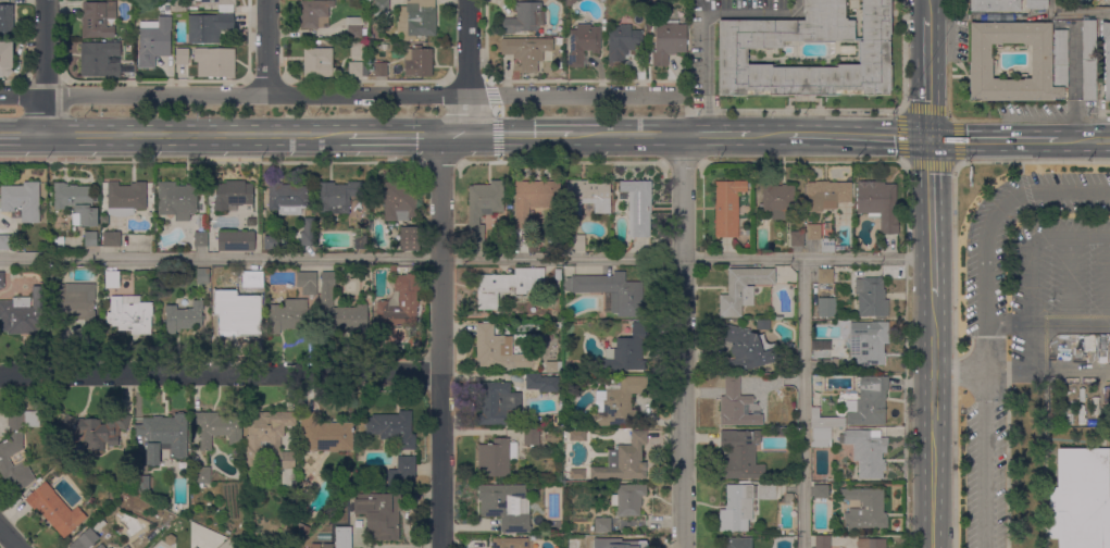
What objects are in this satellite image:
building: (1105, 0)
building: (570, 2)
building: (1036, 3)
building: (220, 4)
road: (953, 4)
building: (993, 5)
building: (178, 7)
building: (381, 8)
road: (927, 10)
road: (1075, 12)
building: (314, 13)
building: (523, 17)
building: (97, 18)
building: (416, 18)
building: (7, 20)
building: (205, 26)
building: (353, 27)
road: (706, 27)
building: (153, 41)
building: (558, 41)
building: (668, 41)
building: (583, 43)
building: (621, 43)
road: (266, 47)
building: (358, 48)
building: (526, 51)
building: (182, 55)
building: (874, 55)
building: (1106, 58)
building: (5, 59)
building: (99, 59)
building: (1088, 60)
building: (214, 62)
building: (317, 62)
building: (983, 62)
building: (419, 63)
road: (42, 66)
road: (466, 67)
building: (357, 68)
building: (381, 68)
road: (927, 79)
road: (1073, 84)
road: (341, 94)
road: (741, 109)
road: (923, 110)
road: (1103, 111)
road: (949, 116)
road: (21, 135)
road: (902, 135)
road: (195, 136)
road: (407, 136)
road: (520, 136)
road: (627, 136)
road: (695, 136)
road: (729, 136)
road: (771, 136)
road: (860, 137)
traffic signals: (930, 139)
road: (993, 139)
road: (1083, 139)
road: (955, 142)
road: (212, 161)
road: (440, 161)
road: (561, 162)
road: (682, 162)
road: (801, 162)
road: (931, 163)
building: (826, 195)
building: (232, 196)
building: (337, 196)
building: (125, 197)
building: (287, 198)
building: (534, 199)
building: (585, 199)
building: (777, 199)
building: (176, 200)
building: (400, 200)
building: (21, 201)
building: (76, 203)
building: (878, 203)
building: (483, 207)
building: (637, 207)
building: (726, 207)
building: (119, 212)
building: (262, 213)
road: (931, 217)
building: (201, 221)
building: (317, 224)
building: (390, 225)
building: (813, 232)
building: (308, 234)
building: (3, 238)
building: (90, 238)
building: (409, 238)
building: (796, 238)
building: (111, 239)
building: (200, 239)
building: (236, 241)
building: (361, 241)
building: (573, 241)
building: (272, 242)
building: (556, 245)
building: (532, 246)
building: (826, 247)
road: (807, 258)
road: (341, 259)
parking lot: (1035, 259)
road: (1030, 261)
building: (392, 269)
building: (54, 275)
building: (203, 276)
building: (825, 276)
building: (252, 278)
road: (955, 278)
building: (1, 279)
building: (112, 279)
road: (1108, 281)
road: (1069, 282)
building: (307, 283)
building: (507, 286)
building: (741, 289)
building: (611, 292)
building: (871, 297)
building: (399, 303)
building: (76, 304)
building: (826, 307)
building: (341, 309)
building: (24, 314)
building: (129, 314)
building: (287, 315)
building: (237, 316)
building: (184, 317)
road: (984, 319)
building: (762, 325)
building: (399, 336)
road: (442, 341)
road: (683, 341)
building: (868, 344)
building: (821, 345)
building: (748, 348)
road: (1047, 348)
building: (492, 349)
building: (626, 351)
road: (905, 353)
building: (827, 366)
building: (552, 368)
road: (221, 372)
road: (958, 372)
building: (541, 383)
building: (615, 401)
building: (869, 401)
road: (805, 402)
building: (498, 404)
building: (735, 404)
building: (825, 421)
road: (932, 422)
building: (216, 427)
building: (392, 427)
building: (96, 431)
building: (324, 434)
building: (163, 436)
building: (532, 436)
building: (267, 437)
building: (821, 437)
building: (16, 447)
building: (866, 451)
road: (1043, 452)
building: (740, 454)
building: (496, 458)
building: (624, 460)
road: (1007, 460)
building: (183, 465)
building: (401, 470)
building: (575, 473)
parking lot: (984, 473)
building: (202, 475)
building: (141, 484)
building: (199, 486)
building: (820, 494)
building: (125, 496)
building: (627, 499)
building: (788, 499)
building: (1080, 499)
building: (744, 505)
building: (506, 507)
building: (865, 509)
building: (54, 510)
building: (379, 514)
building: (99, 524)
building: (602, 525)
building: (344, 536)
road: (9, 537)
building: (85, 539)
building: (170, 540)
building: (822, 541)
building: (510, 543)
building: (618, 543)
building: (737, 543)
building: (871, 543)
building: (101, 546)
building: (126, 547)
building: (194, 547)

